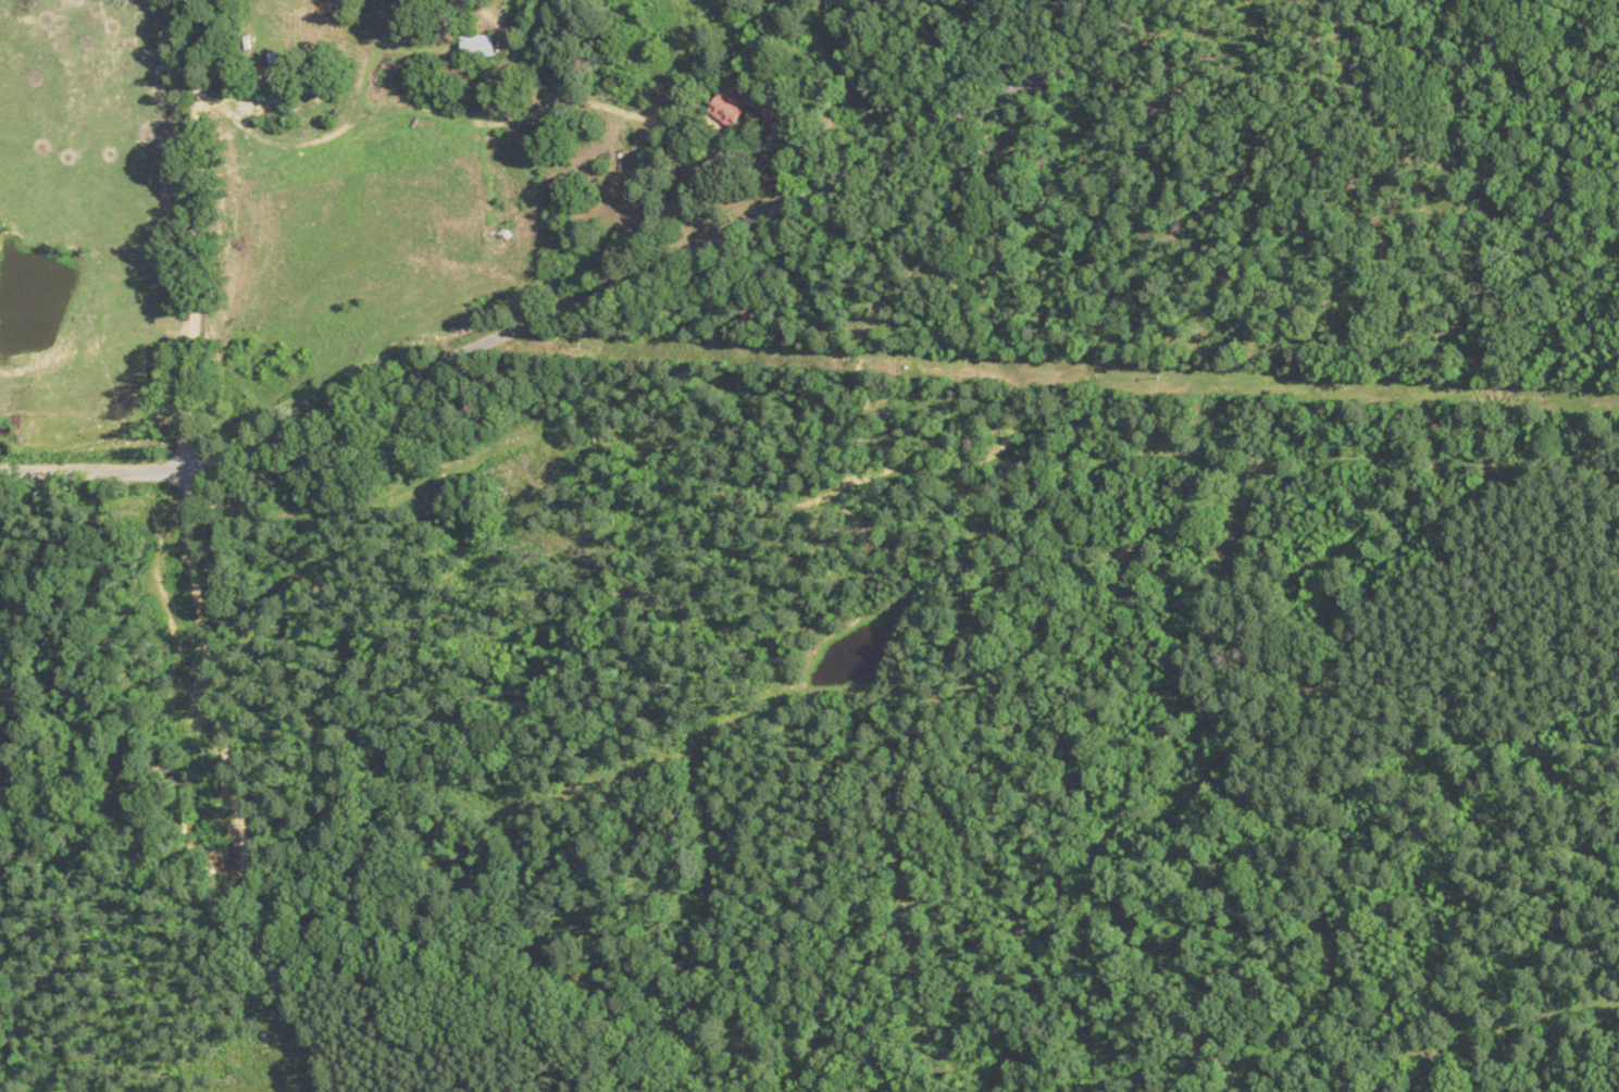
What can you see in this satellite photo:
building: (477, 44)
building: (738, 104)
road: (595, 293)
road: (197, 551)

